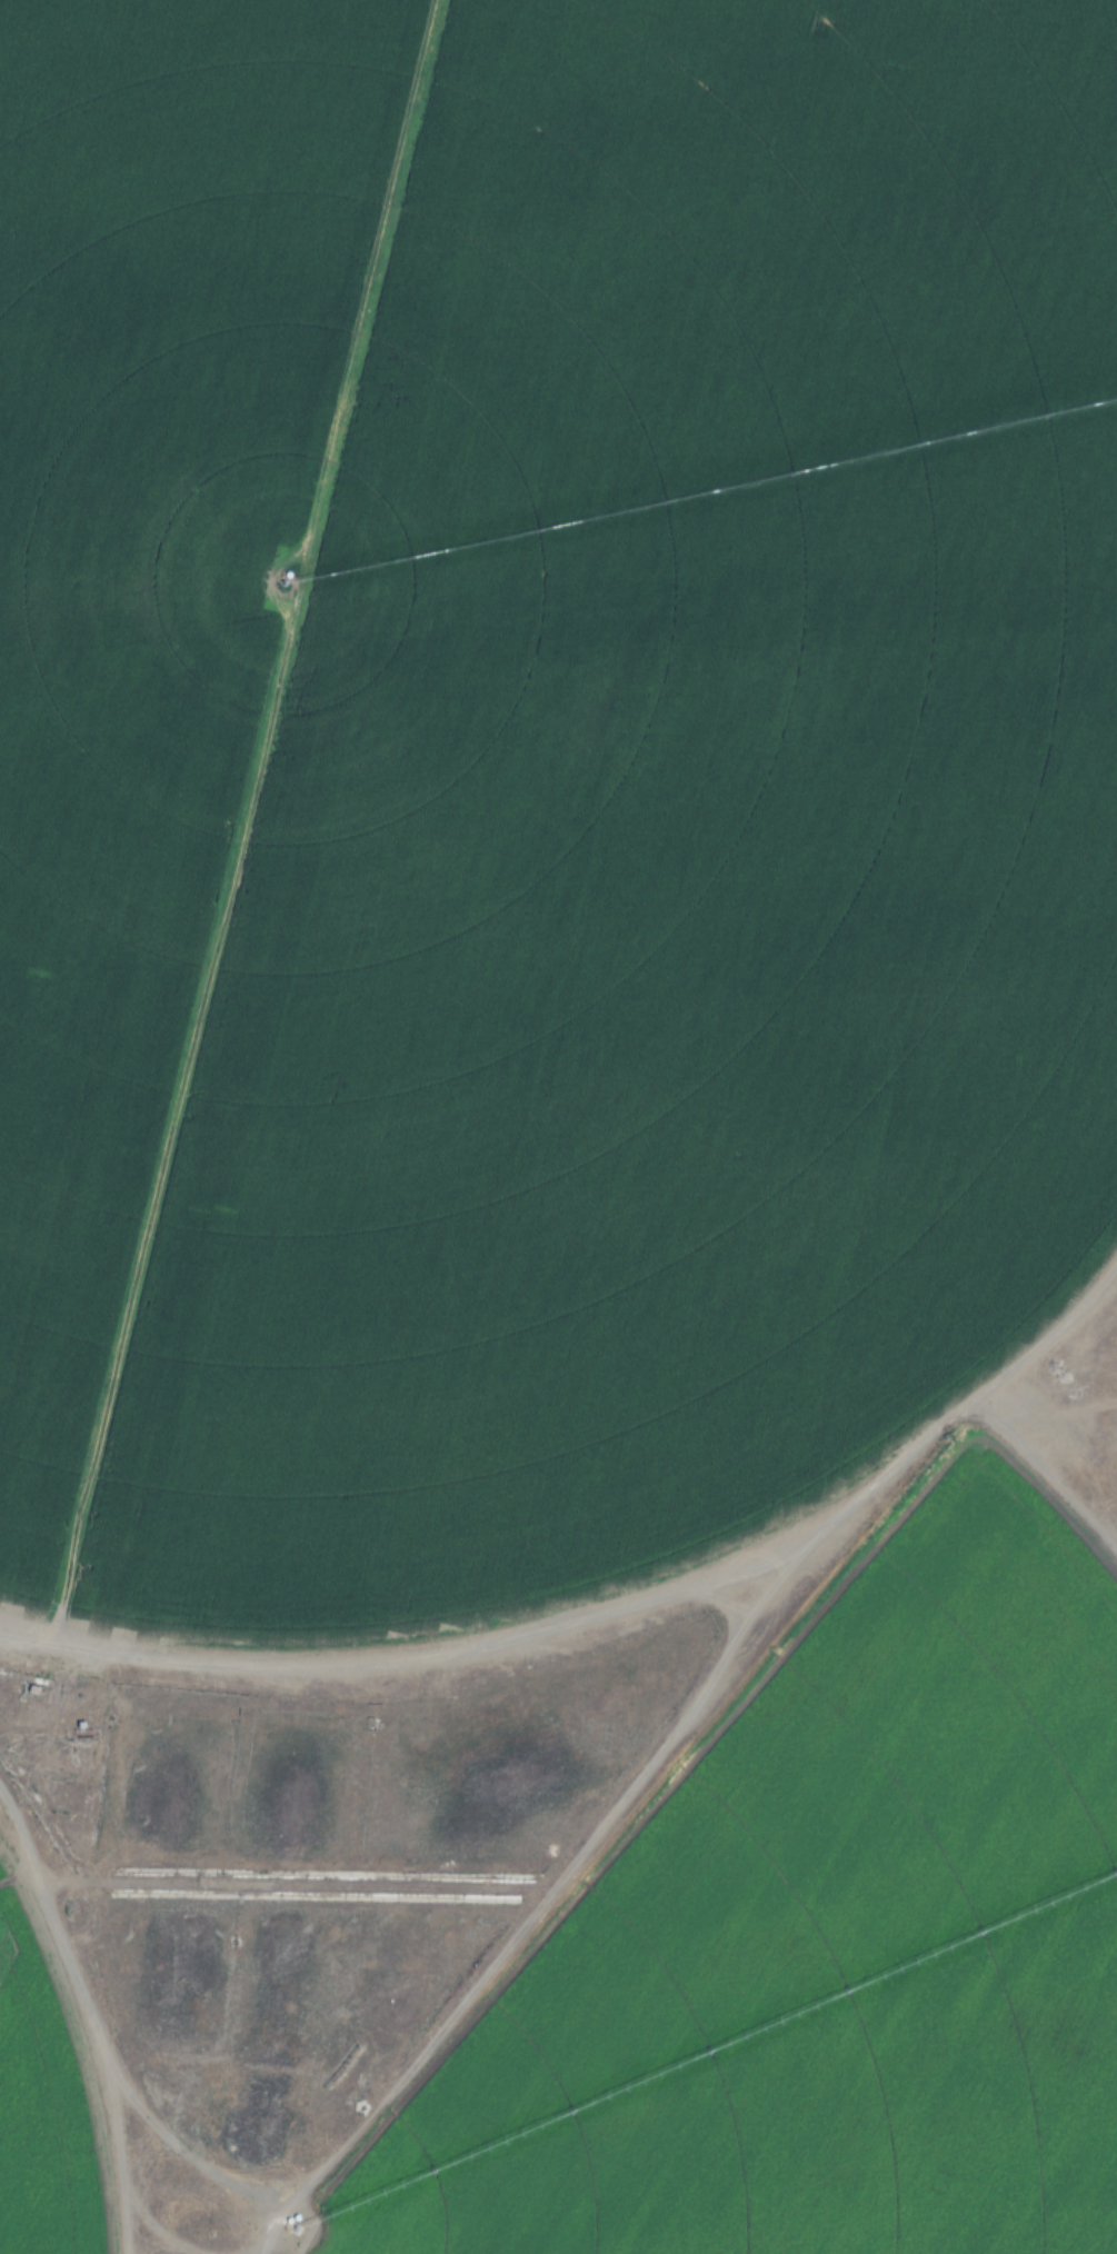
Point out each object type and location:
crop: (537, 767)
building: (27, 1683)

